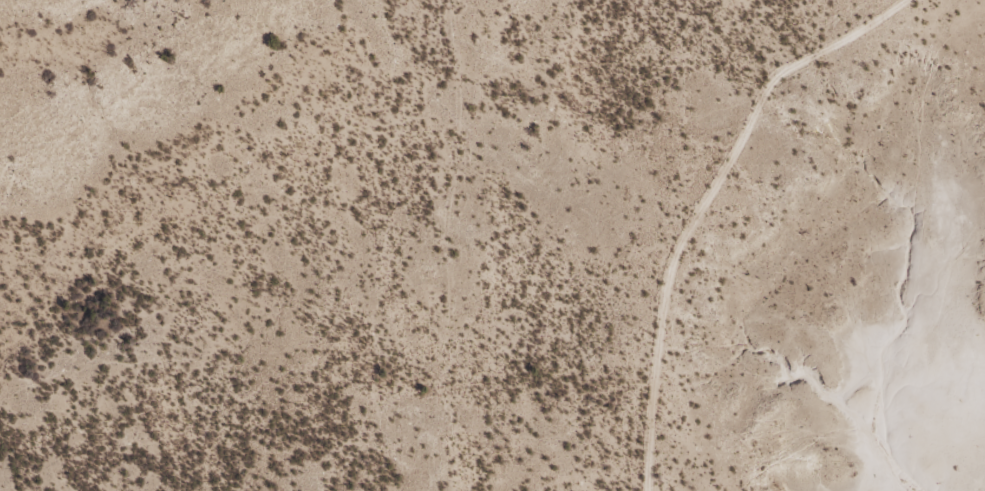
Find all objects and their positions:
road: (700, 211)

